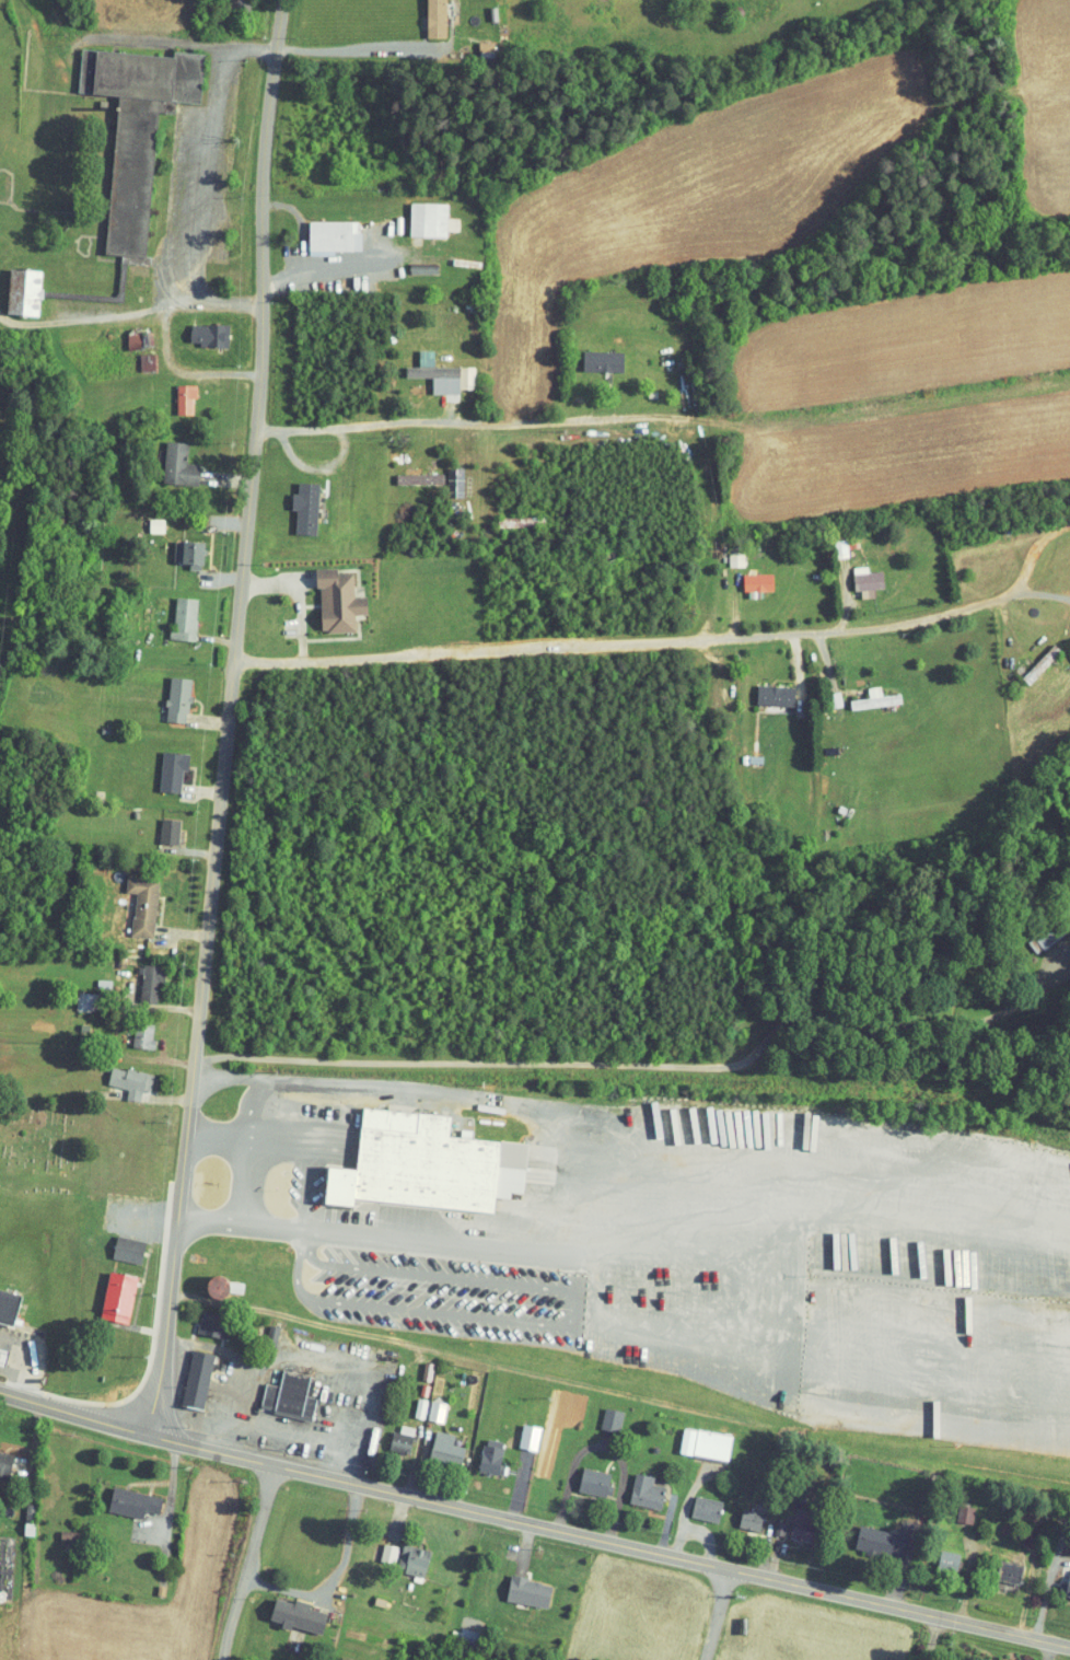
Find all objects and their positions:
building: (424, 15)
road: (340, 49)
park: (9, 78)
building: (125, 123)
road: (265, 146)
building: (419, 213)
road: (303, 228)
building: (322, 229)
road: (337, 272)
building: (14, 286)
building: (198, 328)
building: (127, 334)
building: (591, 355)
building: (430, 368)
building: (173, 393)
road: (517, 419)
road: (317, 428)
building: (166, 458)
building: (408, 473)
building: (293, 502)
building: (179, 548)
building: (723, 553)
building: (856, 574)
building: (746, 576)
road: (1034, 588)
building: (326, 595)
building: (173, 613)
road: (672, 634)
building: (1066, 649)
building: (763, 689)
building: (864, 693)
building: (166, 694)
building: (161, 763)
building: (158, 823)
road: (214, 866)
building: (131, 897)
building: (1032, 930)
building: (139, 976)
building: (131, 1029)
building: (118, 1075)
road: (249, 1141)
park: (50, 1147)
road: (279, 1147)
building: (416, 1157)
building: (530, 1160)
road: (582, 1189)
road: (306, 1191)
road: (302, 1238)
building: (116, 1242)
building: (208, 1278)
building: (107, 1290)
building: (2, 1304)
building: (200, 1317)
road: (574, 1326)
building: (186, 1372)
building: (278, 1390)
building: (408, 1401)
building: (423, 1404)
building: (600, 1413)
building: (517, 1430)
building: (388, 1436)
building: (694, 1437)
building: (434, 1441)
building: (479, 1449)
building: (0, 1451)
building: (583, 1475)
building: (635, 1485)
building: (123, 1496)
road: (422, 1499)
building: (695, 1501)
building: (953, 1507)
building: (738, 1513)
building: (793, 1518)
building: (870, 1534)
building: (376, 1547)
building: (402, 1553)
building: (938, 1554)
road: (272, 1565)
building: (998, 1565)
building: (1061, 1578)
building: (517, 1584)
road: (884, 1601)
building: (287, 1609)
road: (716, 1615)
road: (809, 1623)
road: (995, 1628)
road: (932, 1637)
road: (1050, 1651)

